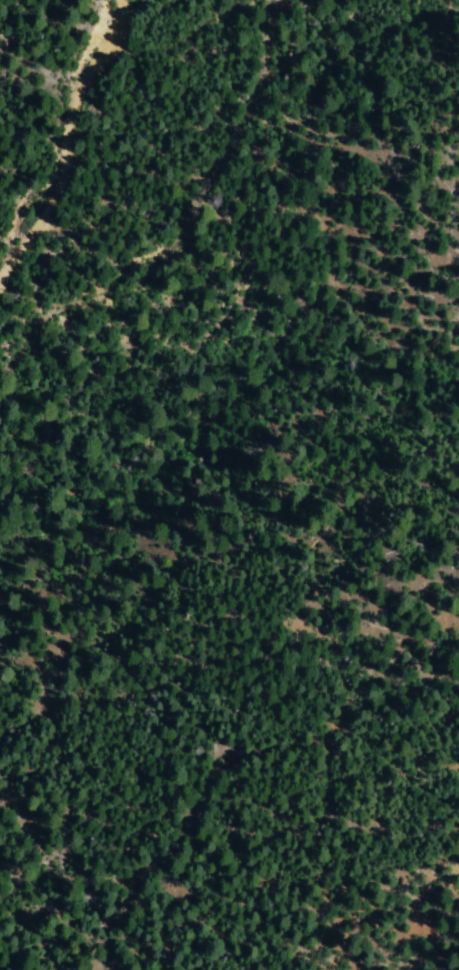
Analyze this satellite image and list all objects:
road: (176, 211)

